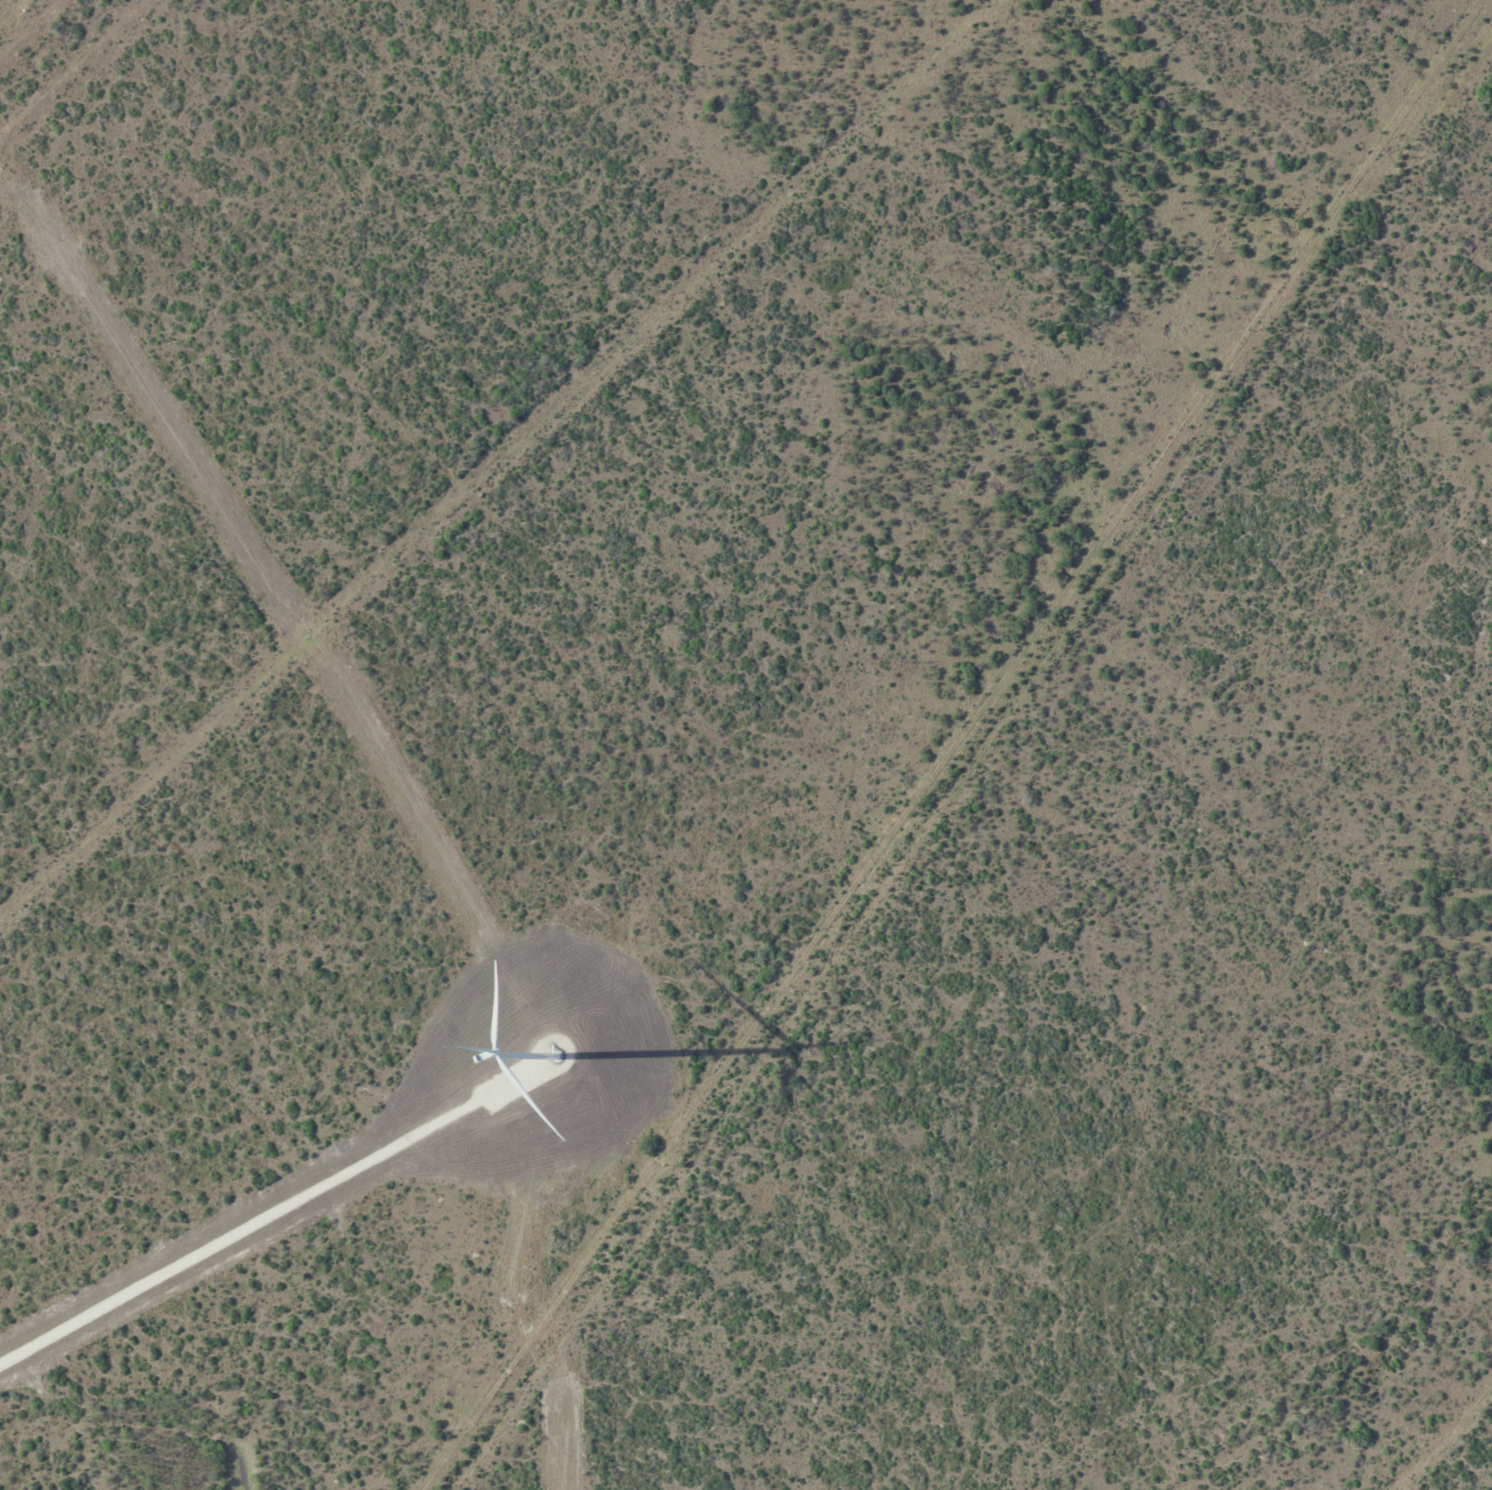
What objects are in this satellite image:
wind turbine: (558, 1049)

